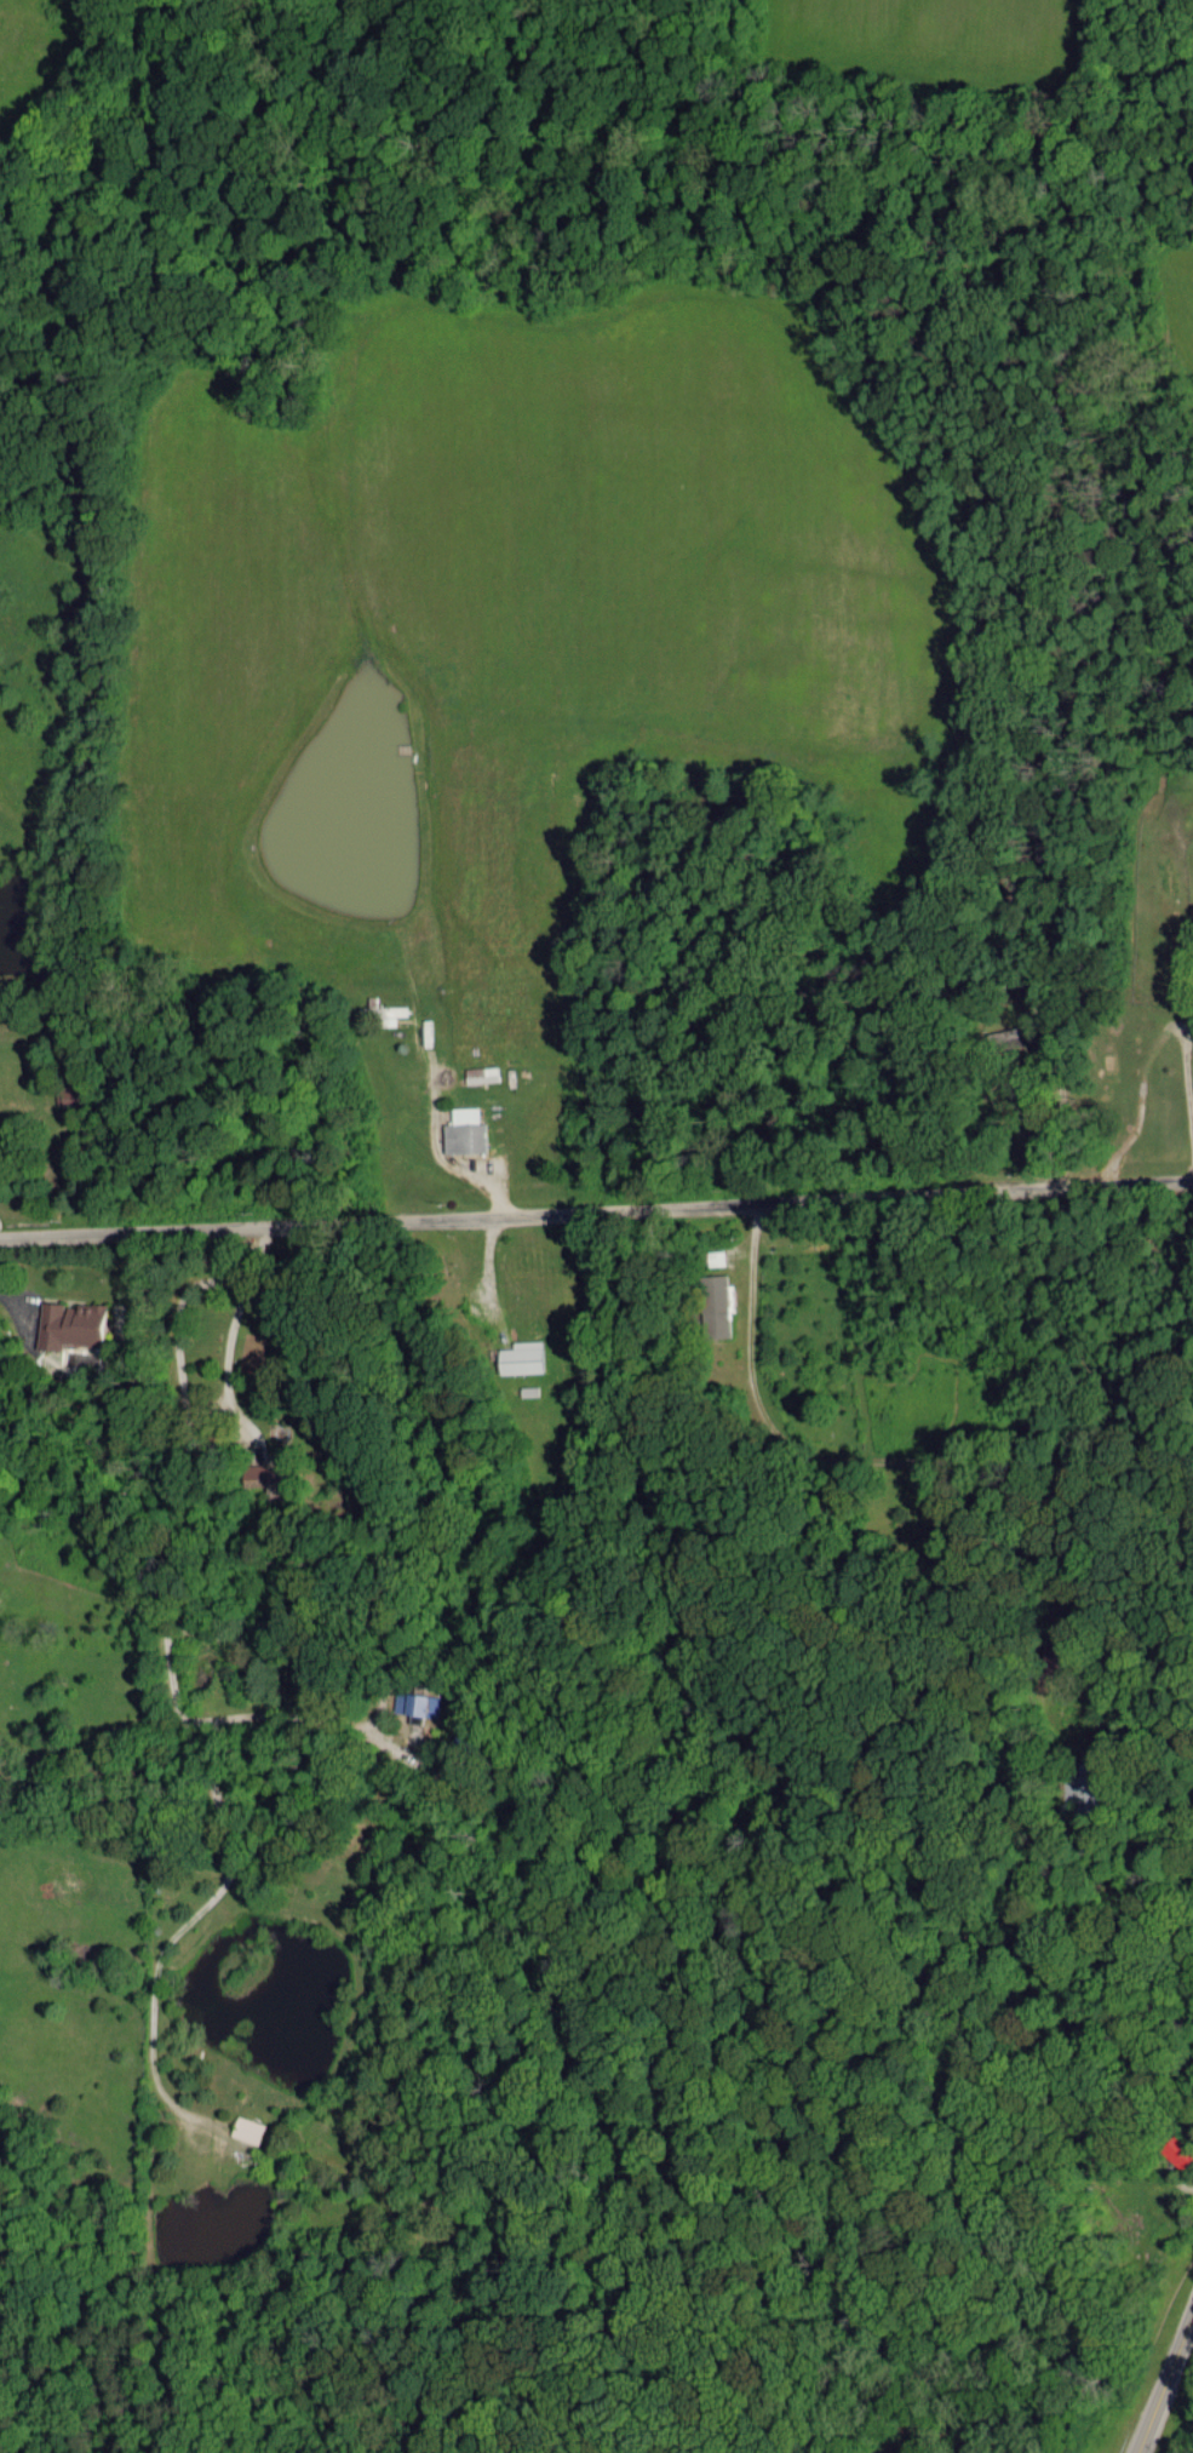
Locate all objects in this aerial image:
road: (1186, 1071)
building: (483, 1074)
road: (1054, 1121)
building: (469, 1131)
road: (596, 1213)
building: (78, 1325)
road: (226, 1341)
building: (532, 1357)
building: (424, 1703)
park: (821, 1863)
building: (248, 2128)
road: (1164, 2374)

